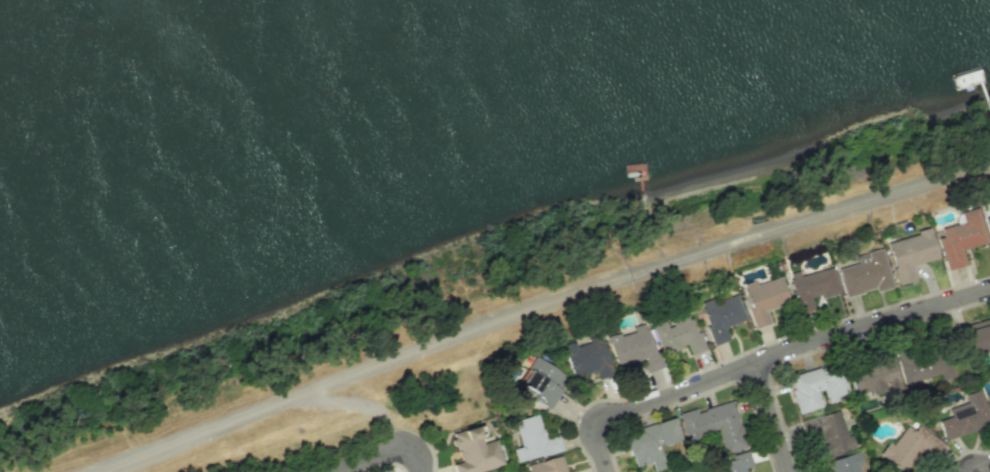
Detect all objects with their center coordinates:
river: (279, 79)
building: (987, 223)
building: (961, 238)
building: (911, 254)
building: (865, 274)
building: (812, 286)
building: (764, 299)
road: (540, 303)
building: (721, 316)
building: (677, 334)
building: (976, 338)
building: (633, 346)
building: (587, 357)
road: (764, 358)
building: (926, 367)
building: (511, 375)
building: (873, 376)
building: (542, 382)
building: (817, 387)
building: (965, 416)
road: (769, 417)
building: (715, 425)
building: (832, 435)
building: (533, 439)
building: (651, 443)
building: (911, 447)
building: (474, 452)
road: (390, 454)
building: (735, 463)
building: (846, 463)
building: (548, 465)
road: (987, 470)

